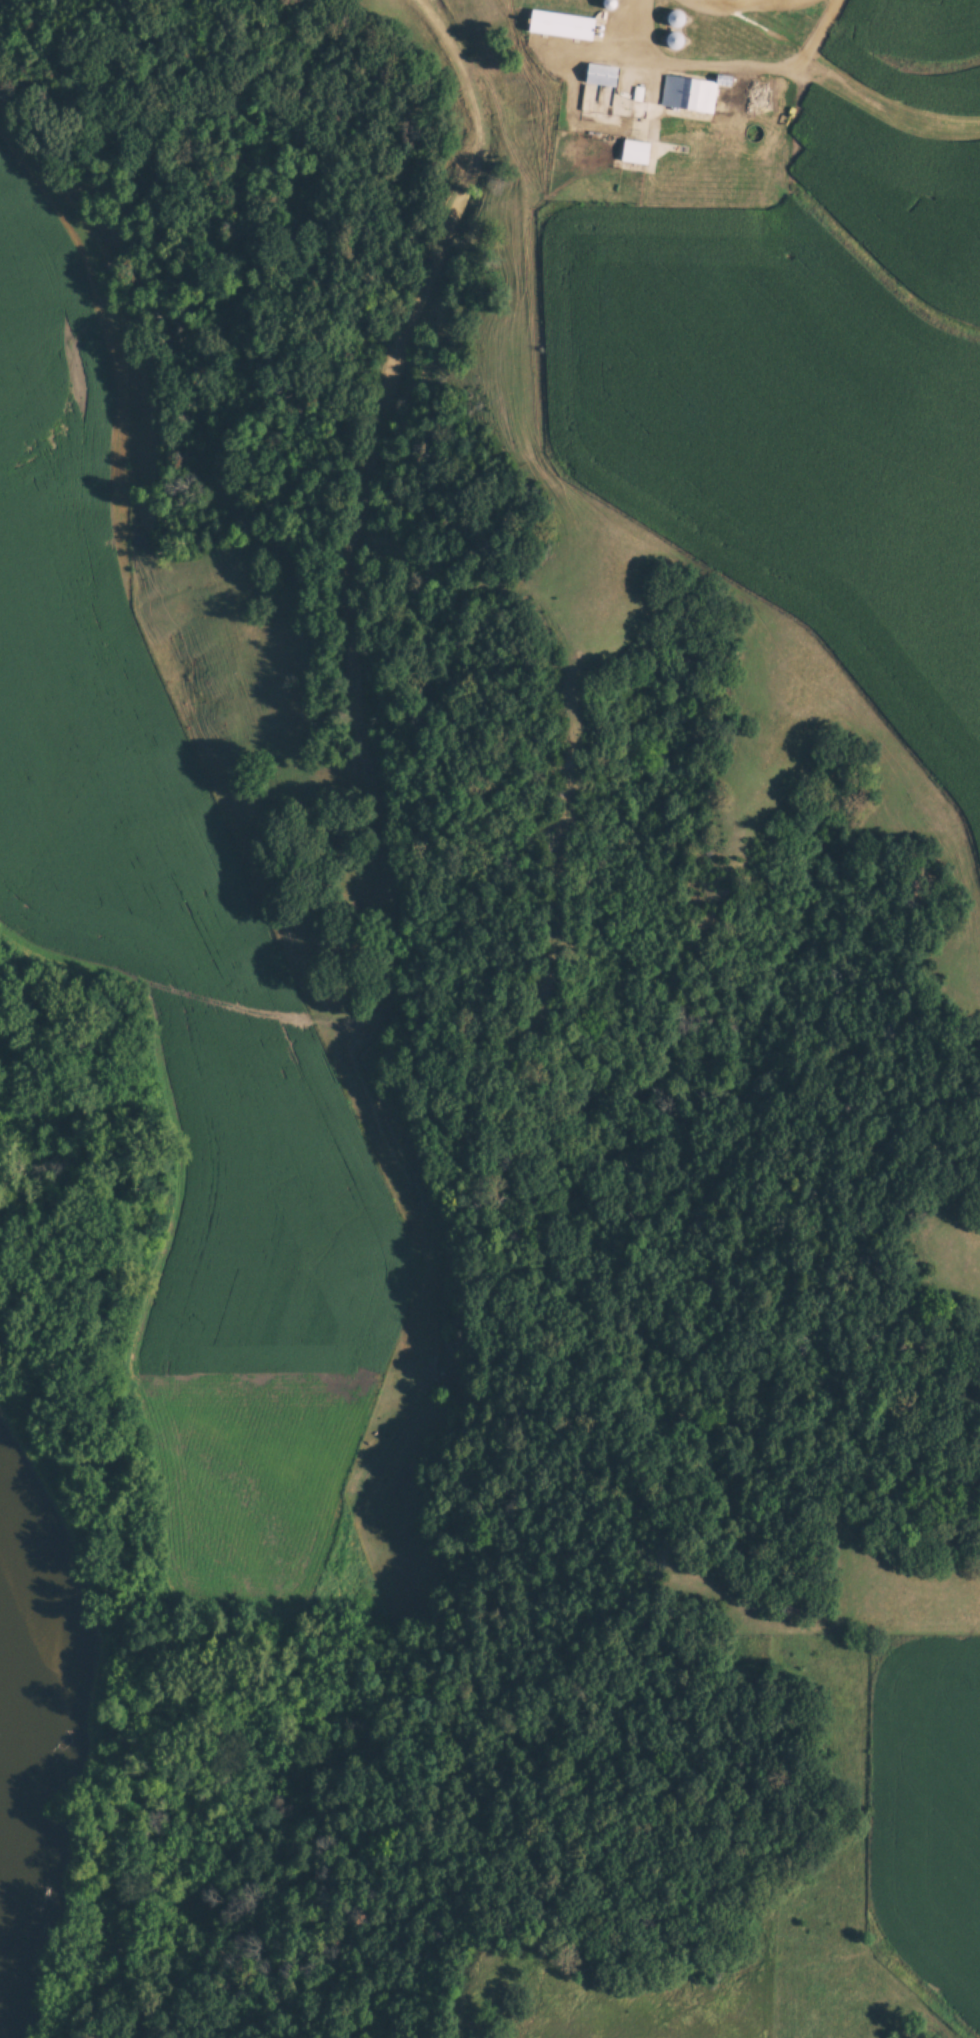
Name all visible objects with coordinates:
building: (679, 19)
building: (565, 25)
building: (680, 39)
building: (604, 75)
building: (690, 93)
building: (638, 152)
river: (37, 1695)

